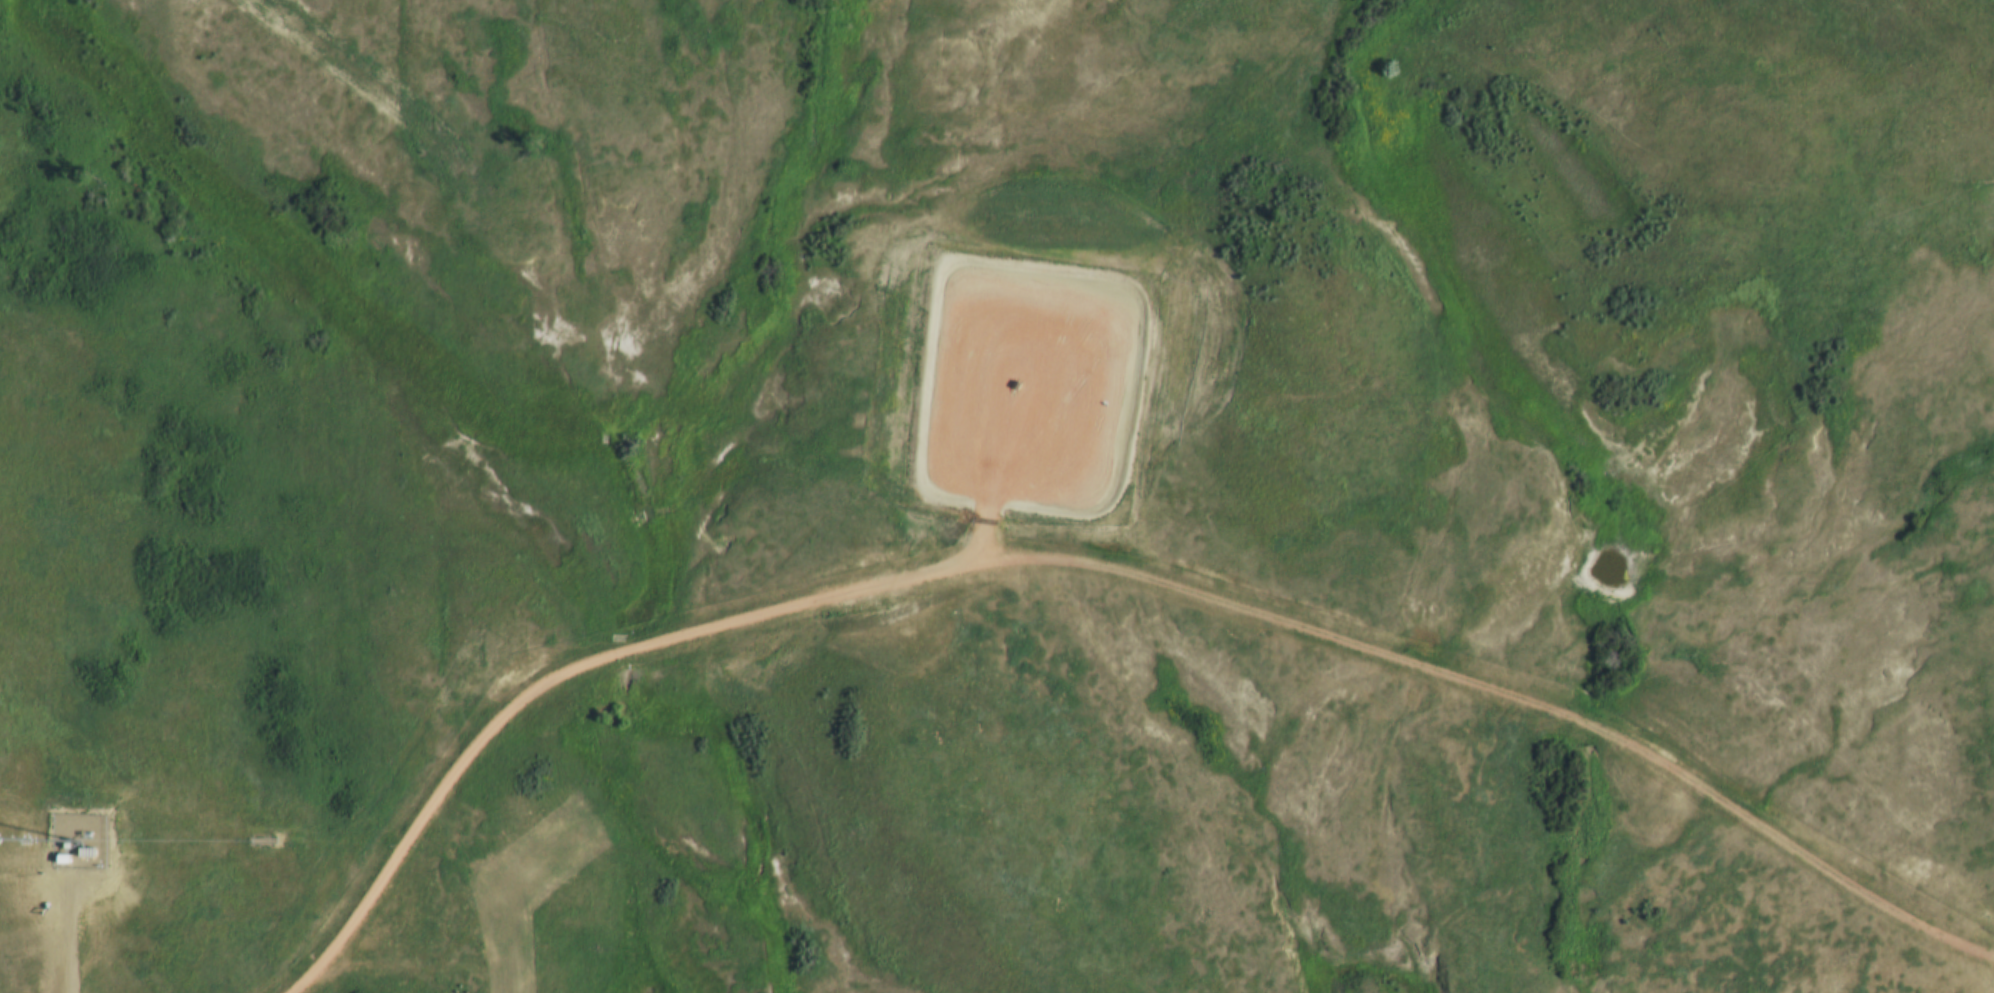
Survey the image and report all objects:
road: (1107, 564)

